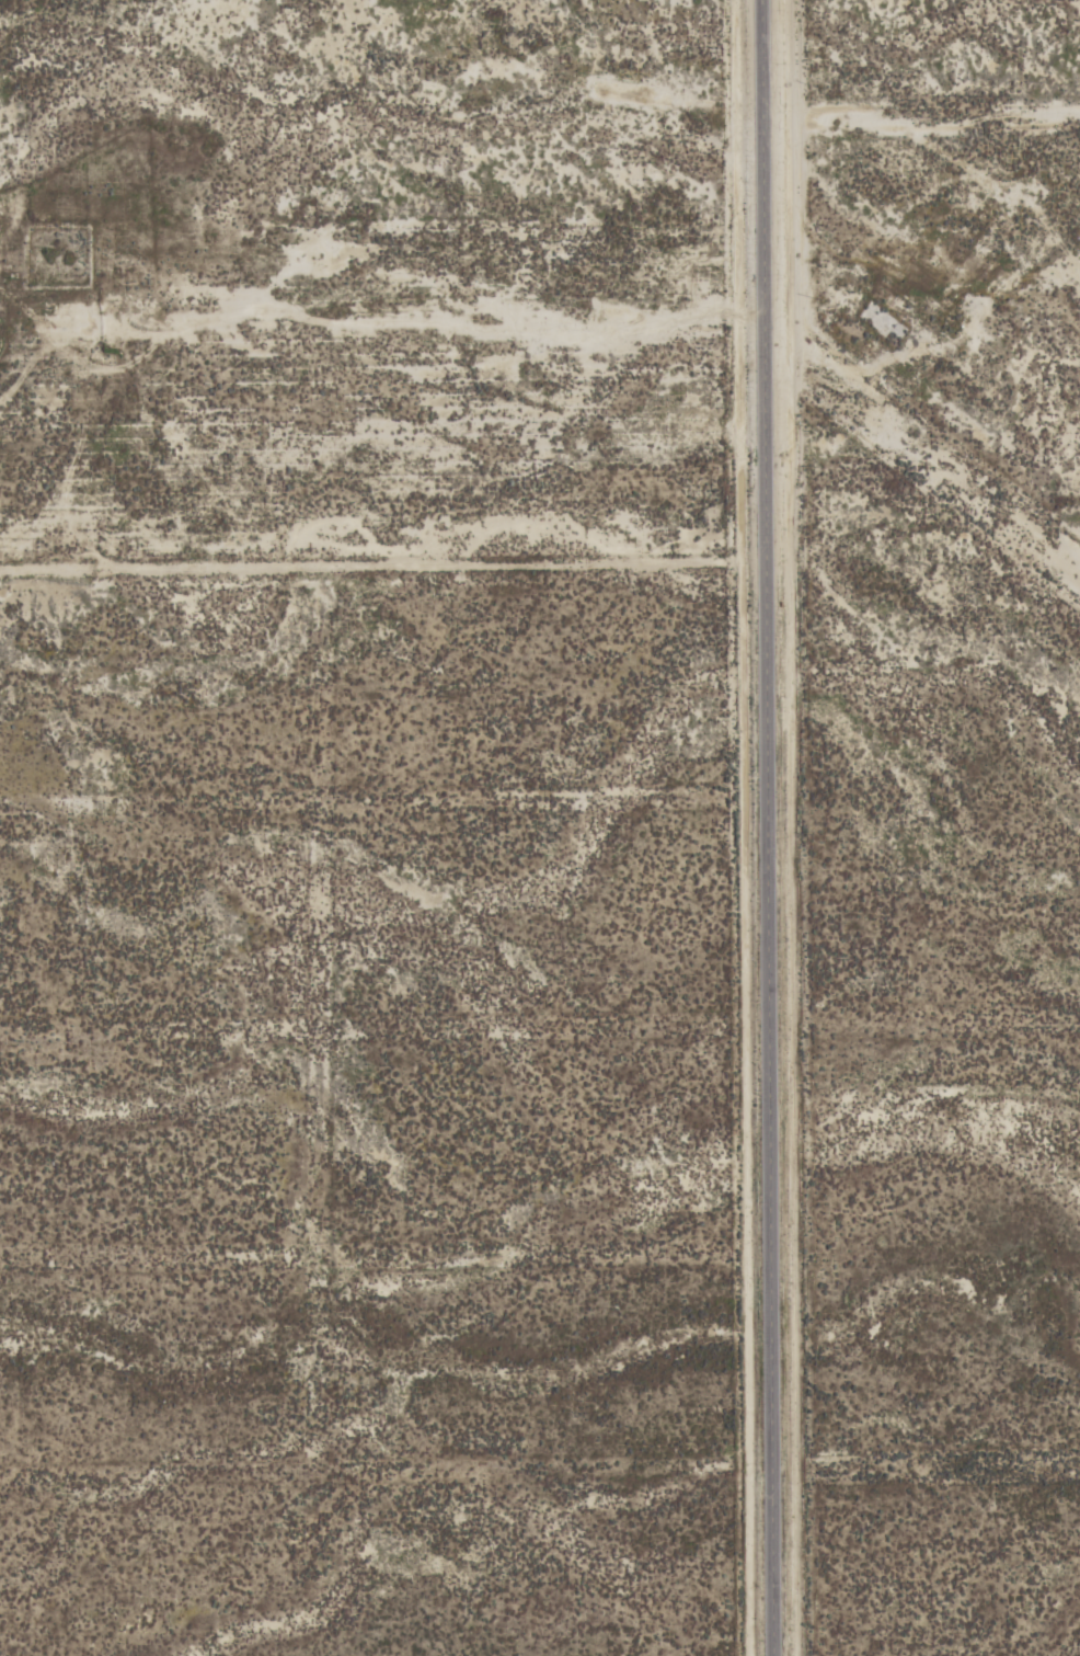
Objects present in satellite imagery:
road: (767, 827)

